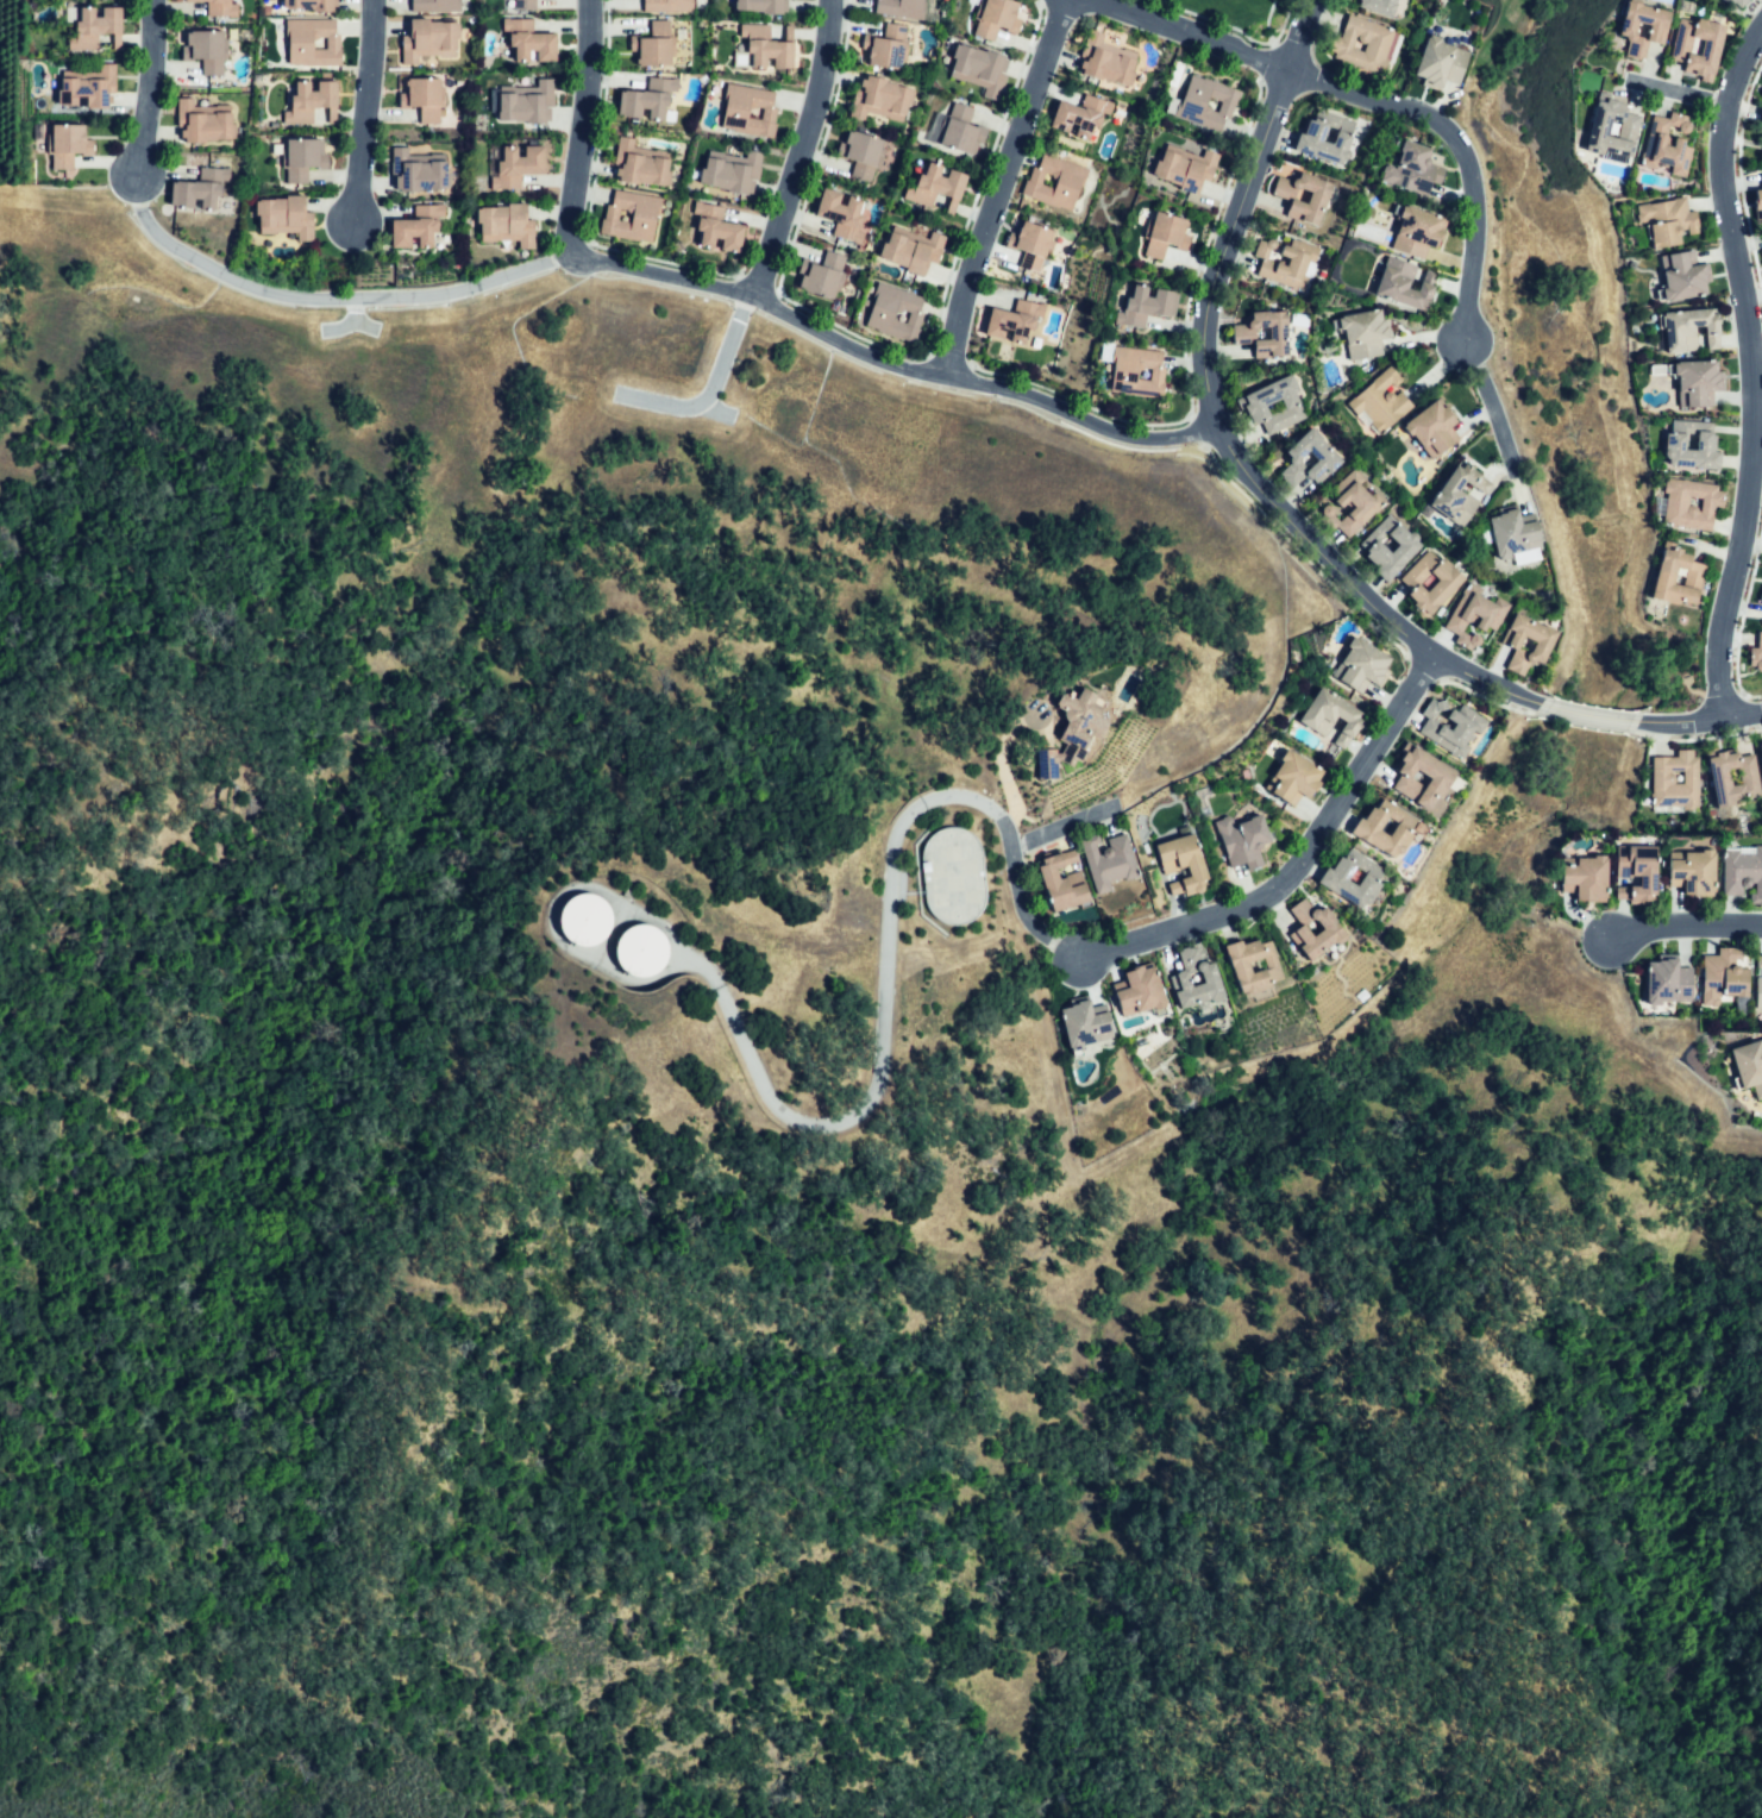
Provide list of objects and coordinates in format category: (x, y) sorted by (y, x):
building: (1736, 4)
building: (435, 5)
building: (520, 5)
building: (666, 5)
building: (311, 6)
building: (902, 6)
building: (1379, 6)
building: (219, 7)
building: (761, 7)
building: (999, 15)
park: (1534, 18)
building: (1660, 29)
building: (95, 30)
building: (428, 40)
building: (529, 40)
building: (656, 42)
building: (314, 43)
building: (886, 45)
building: (765, 48)
building: (1341, 50)
building: (1679, 50)
building: (207, 51)
building: (1108, 62)
building: (1441, 63)
building: (978, 70)
building: (92, 87)
road: (143, 90)
road: (1678, 90)
building: (648, 98)
building: (424, 99)
building: (877, 100)
road: (1377, 100)
building: (529, 104)
building: (313, 105)
building: (1193, 105)
building: (751, 106)
road: (365, 109)
building: (1085, 117)
building: (1761, 119)
building: (201, 124)
road: (577, 128)
building: (1600, 130)
building: (957, 131)
building: (1325, 136)
building: (1667, 144)
building: (67, 145)
building: (1761, 148)
building: (861, 152)
road: (800, 153)
building: (302, 158)
building: (639, 164)
building: (518, 165)
building: (1185, 170)
building: (1413, 170)
building: (419, 174)
building: (732, 174)
building: (1055, 178)
road: (1005, 186)
building: (936, 188)
building: (199, 189)
building: (1318, 198)
building: (1760, 202)
building: (841, 215)
building: (284, 218)
building: (633, 218)
building: (1667, 220)
building: (508, 226)
building: (419, 228)
building: (1418, 232)
building: (714, 233)
building: (1166, 237)
building: (1032, 244)
building: (911, 251)
building: (1287, 263)
building: (821, 275)
building: (1685, 278)
building: (1407, 286)
road: (328, 297)
building: (1145, 308)
building: (893, 313)
road: (349, 321)
road: (362, 325)
building: (1017, 325)
building: (1693, 327)
building: (1362, 336)
building: (1242, 338)
road: (886, 364)
road: (1749, 368)
building: (1123, 375)
building: (1698, 383)
road: (708, 391)
road: (1484, 397)
building: (1379, 401)
building: (1261, 403)
road: (1212, 425)
building: (1432, 427)
building: (1693, 450)
building: (1316, 452)
building: (1460, 494)
building: (1355, 502)
building: (1679, 502)
building: (1517, 539)
building: (1388, 545)
building: (1693, 573)
building: (1447, 581)
building: (1760, 594)
building: (1475, 614)
building: (1761, 640)
building: (1544, 641)
building: (1362, 665)
road: (1587, 711)
building: (1085, 713)
building: (1333, 716)
road: (1697, 722)
building: (1454, 727)
building: (1760, 751)
building: (1047, 763)
road: (1001, 770)
building: (1720, 775)
building: (1662, 776)
building: (1294, 777)
building: (1410, 781)
road: (1001, 821)
building: (1369, 832)
building: (1243, 841)
building: (1109, 860)
building: (1181, 866)
building: (1695, 872)
building: (1638, 873)
building: (1744, 873)
building: (953, 877)
building: (1587, 878)
building: (1061, 880)
building: (1352, 884)
building: (584, 909)
building: (1334, 932)
road: (1686, 933)
building: (639, 947)
building: (1760, 960)
building: (1244, 967)
building: (1724, 974)
building: (1212, 976)
building: (1668, 980)
building: (1143, 992)
building: (1758, 995)
building: (1089, 1030)
building: (1749, 1065)

